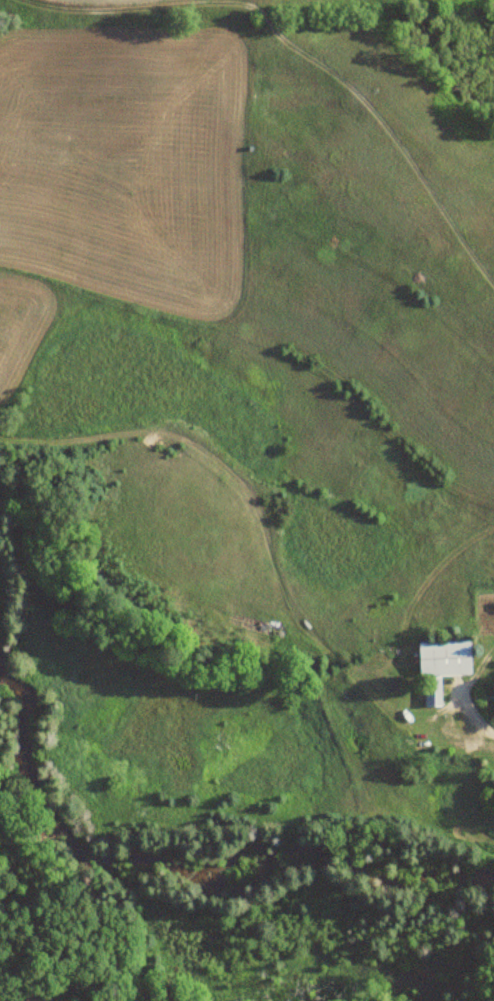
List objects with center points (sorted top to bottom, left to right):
building: (440, 665)
road: (479, 717)
building: (460, 725)
river: (181, 868)

